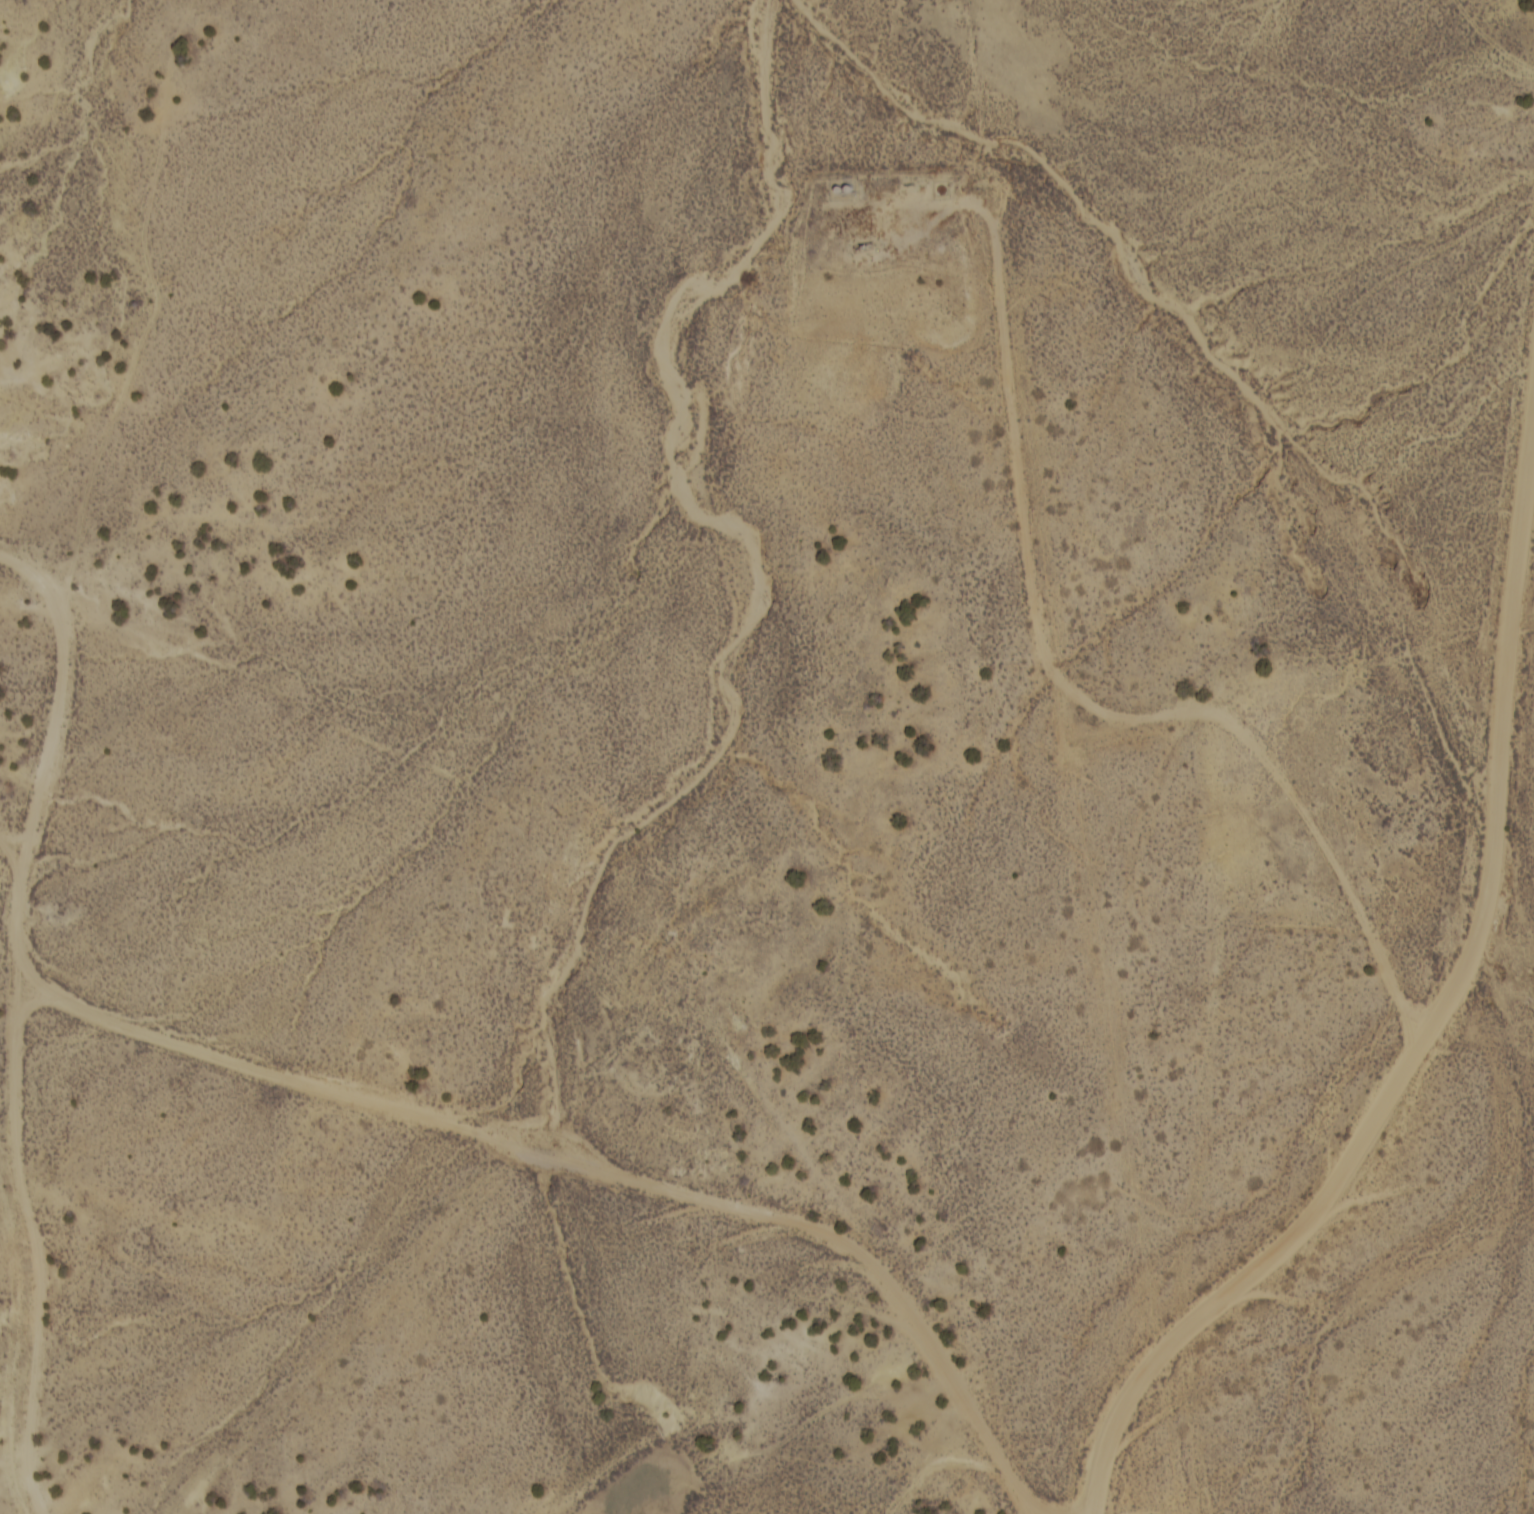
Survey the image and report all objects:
road: (40, 1013)
road: (1438, 1019)

